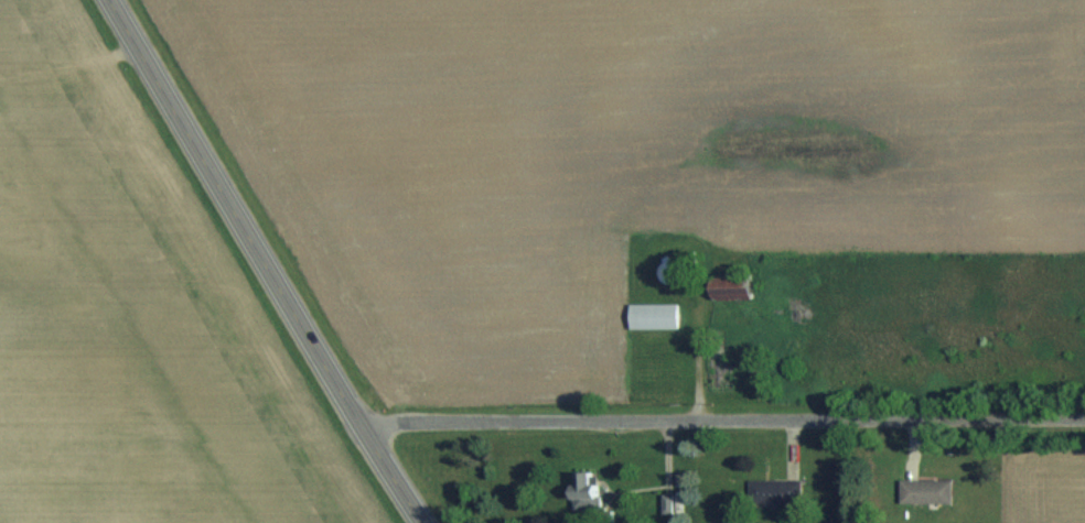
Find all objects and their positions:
road: (265, 262)
building: (672, 271)
building: (731, 285)
building: (653, 315)
building: (730, 374)
road: (722, 418)
building: (774, 490)
building: (924, 490)
building: (584, 491)

